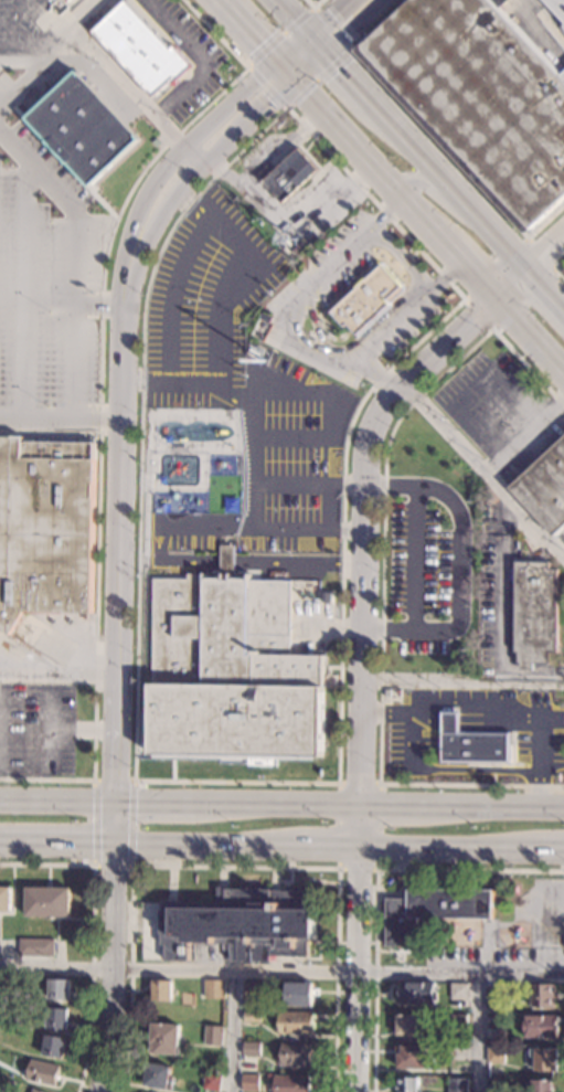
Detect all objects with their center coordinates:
building: (68, 0)
road: (347, 0)
building: (557, 6)
parking garage: (557, 6)
road: (315, 8)
road: (309, 13)
traffic signals: (331, 14)
road: (328, 15)
road: (294, 17)
road: (50, 22)
road: (355, 25)
road: (11, 31)
road: (246, 31)
road: (215, 34)
road: (318, 42)
traffic signals: (258, 44)
road: (66, 46)
road: (291, 47)
building: (140, 50)
road: (199, 60)
road: (310, 66)
traffic signals: (341, 68)
road: (284, 72)
road: (123, 82)
road: (354, 82)
building: (482, 94)
traffic signals: (272, 103)
road: (290, 104)
building: (82, 128)
road: (113, 130)
road: (432, 135)
road: (183, 149)
road: (265, 157)
road: (371, 163)
road: (205, 165)
road: (331, 169)
road: (126, 171)
building: (292, 174)
road: (96, 184)
road: (433, 190)
road: (455, 192)
road: (187, 197)
road: (74, 202)
road: (375, 202)
road: (385, 212)
parking lot: (58, 219)
road: (288, 229)
road: (24, 240)
building: (299, 250)
road: (546, 254)
road: (397, 258)
road: (555, 268)
road: (556, 269)
road: (471, 273)
building: (562, 273)
road: (443, 275)
road: (233, 279)
road: (124, 280)
road: (513, 286)
road: (545, 291)
road: (61, 300)
building: (358, 301)
building: (252, 337)
road: (307, 337)
road: (530, 337)
road: (429, 361)
road: (528, 369)
road: (374, 374)
road: (131, 379)
road: (179, 379)
road: (231, 392)
road: (99, 397)
road: (139, 416)
road: (326, 416)
road: (60, 418)
road: (249, 420)
road: (49, 432)
road: (523, 435)
road: (253, 460)
road: (482, 471)
road: (297, 485)
road: (353, 485)
building: (544, 488)
road: (326, 505)
road: (342, 517)
road: (277, 524)
road: (352, 526)
building: (44, 529)
road: (382, 534)
road: (118, 552)
road: (414, 556)
road: (194, 560)
building: (226, 562)
road: (459, 563)
building: (312, 585)
building: (301, 595)
building: (533, 613)
road: (499, 614)
road: (361, 616)
road: (58, 675)
building: (231, 675)
road: (461, 683)
building: (473, 750)
road: (46, 778)
road: (113, 780)
road: (235, 781)
road: (471, 784)
road: (57, 801)
road: (153, 803)
road: (274, 803)
road: (386, 804)
road: (489, 805)
road: (93, 821)
road: (132, 823)
road: (115, 824)
road: (357, 826)
road: (1, 841)
road: (57, 844)
road: (203, 846)
road: (324, 847)
road: (447, 848)
road: (551, 850)
road: (111, 865)
road: (232, 866)
road: (375, 866)
road: (374, 886)
building: (4, 899)
building: (47, 902)
building: (432, 911)
building: (241, 924)
road: (91, 932)
building: (562, 944)
building: (34, 947)
building: (225, 947)
road: (111, 968)
road: (281, 969)
road: (355, 969)
building: (57, 989)
building: (213, 989)
building: (161, 990)
building: (251, 990)
building: (458, 992)
building: (415, 993)
building: (298, 994)
building: (541, 995)
building: (494, 996)
building: (251, 1017)
building: (56, 1018)
building: (458, 1021)
building: (496, 1021)
building: (295, 1022)
building: (408, 1025)
building: (540, 1027)
road: (233, 1030)
road: (479, 1032)
building: (212, 1036)
building: (163, 1039)
building: (53, 1046)
building: (251, 1049)
building: (457, 1053)
building: (294, 1054)
building: (494, 1054)
building: (412, 1057)
building: (545, 1060)
building: (42, 1073)
building: (157, 1075)
building: (211, 1082)
building: (248, 1082)
building: (290, 1083)
building: (494, 1083)
building: (10, 1084)
building: (406, 1084)
building: (457, 1085)
building: (542, 1085)
building: (34, 1091)

